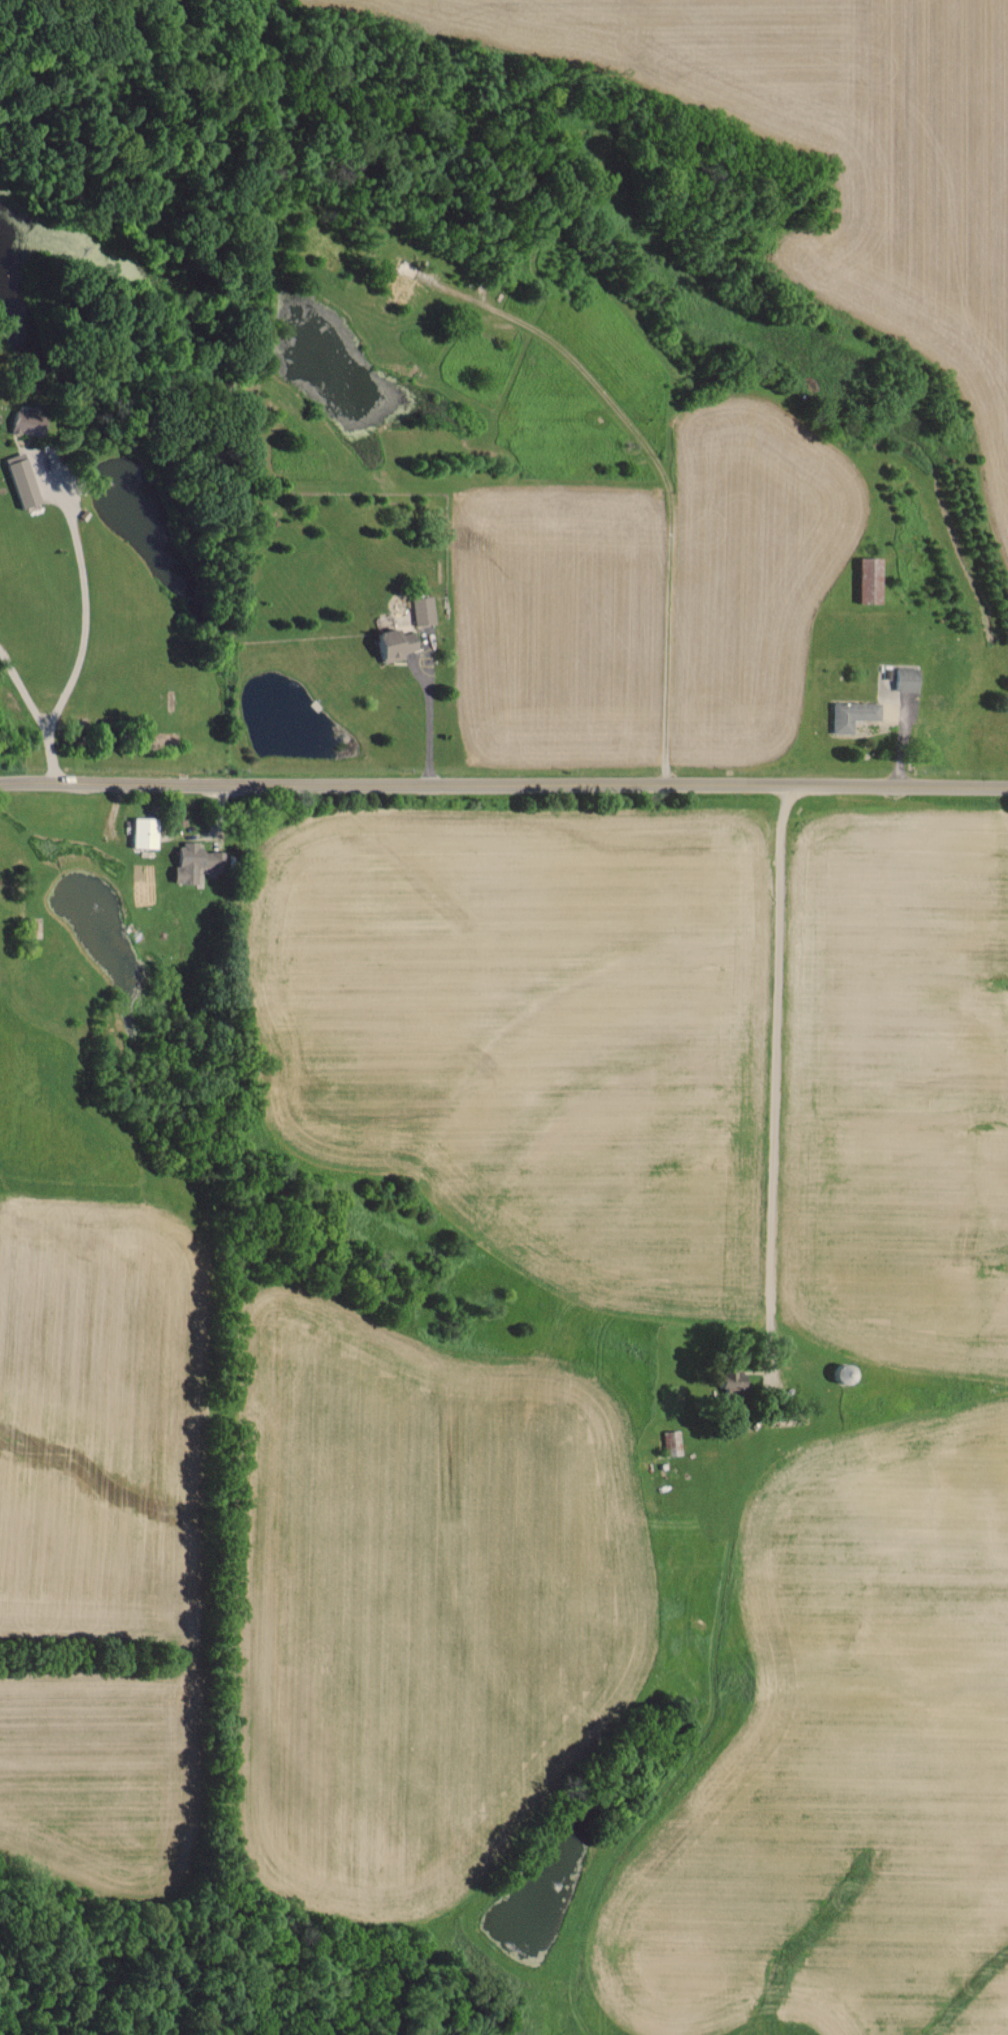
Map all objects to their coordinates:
building: (19, 422)
building: (18, 478)
building: (865, 578)
road: (83, 604)
building: (420, 609)
building: (387, 643)
building: (903, 677)
building: (849, 713)
road: (36, 716)
road: (426, 725)
road: (503, 785)
building: (141, 831)
building: (191, 861)
road: (774, 1057)
building: (724, 1379)
building: (670, 1442)

